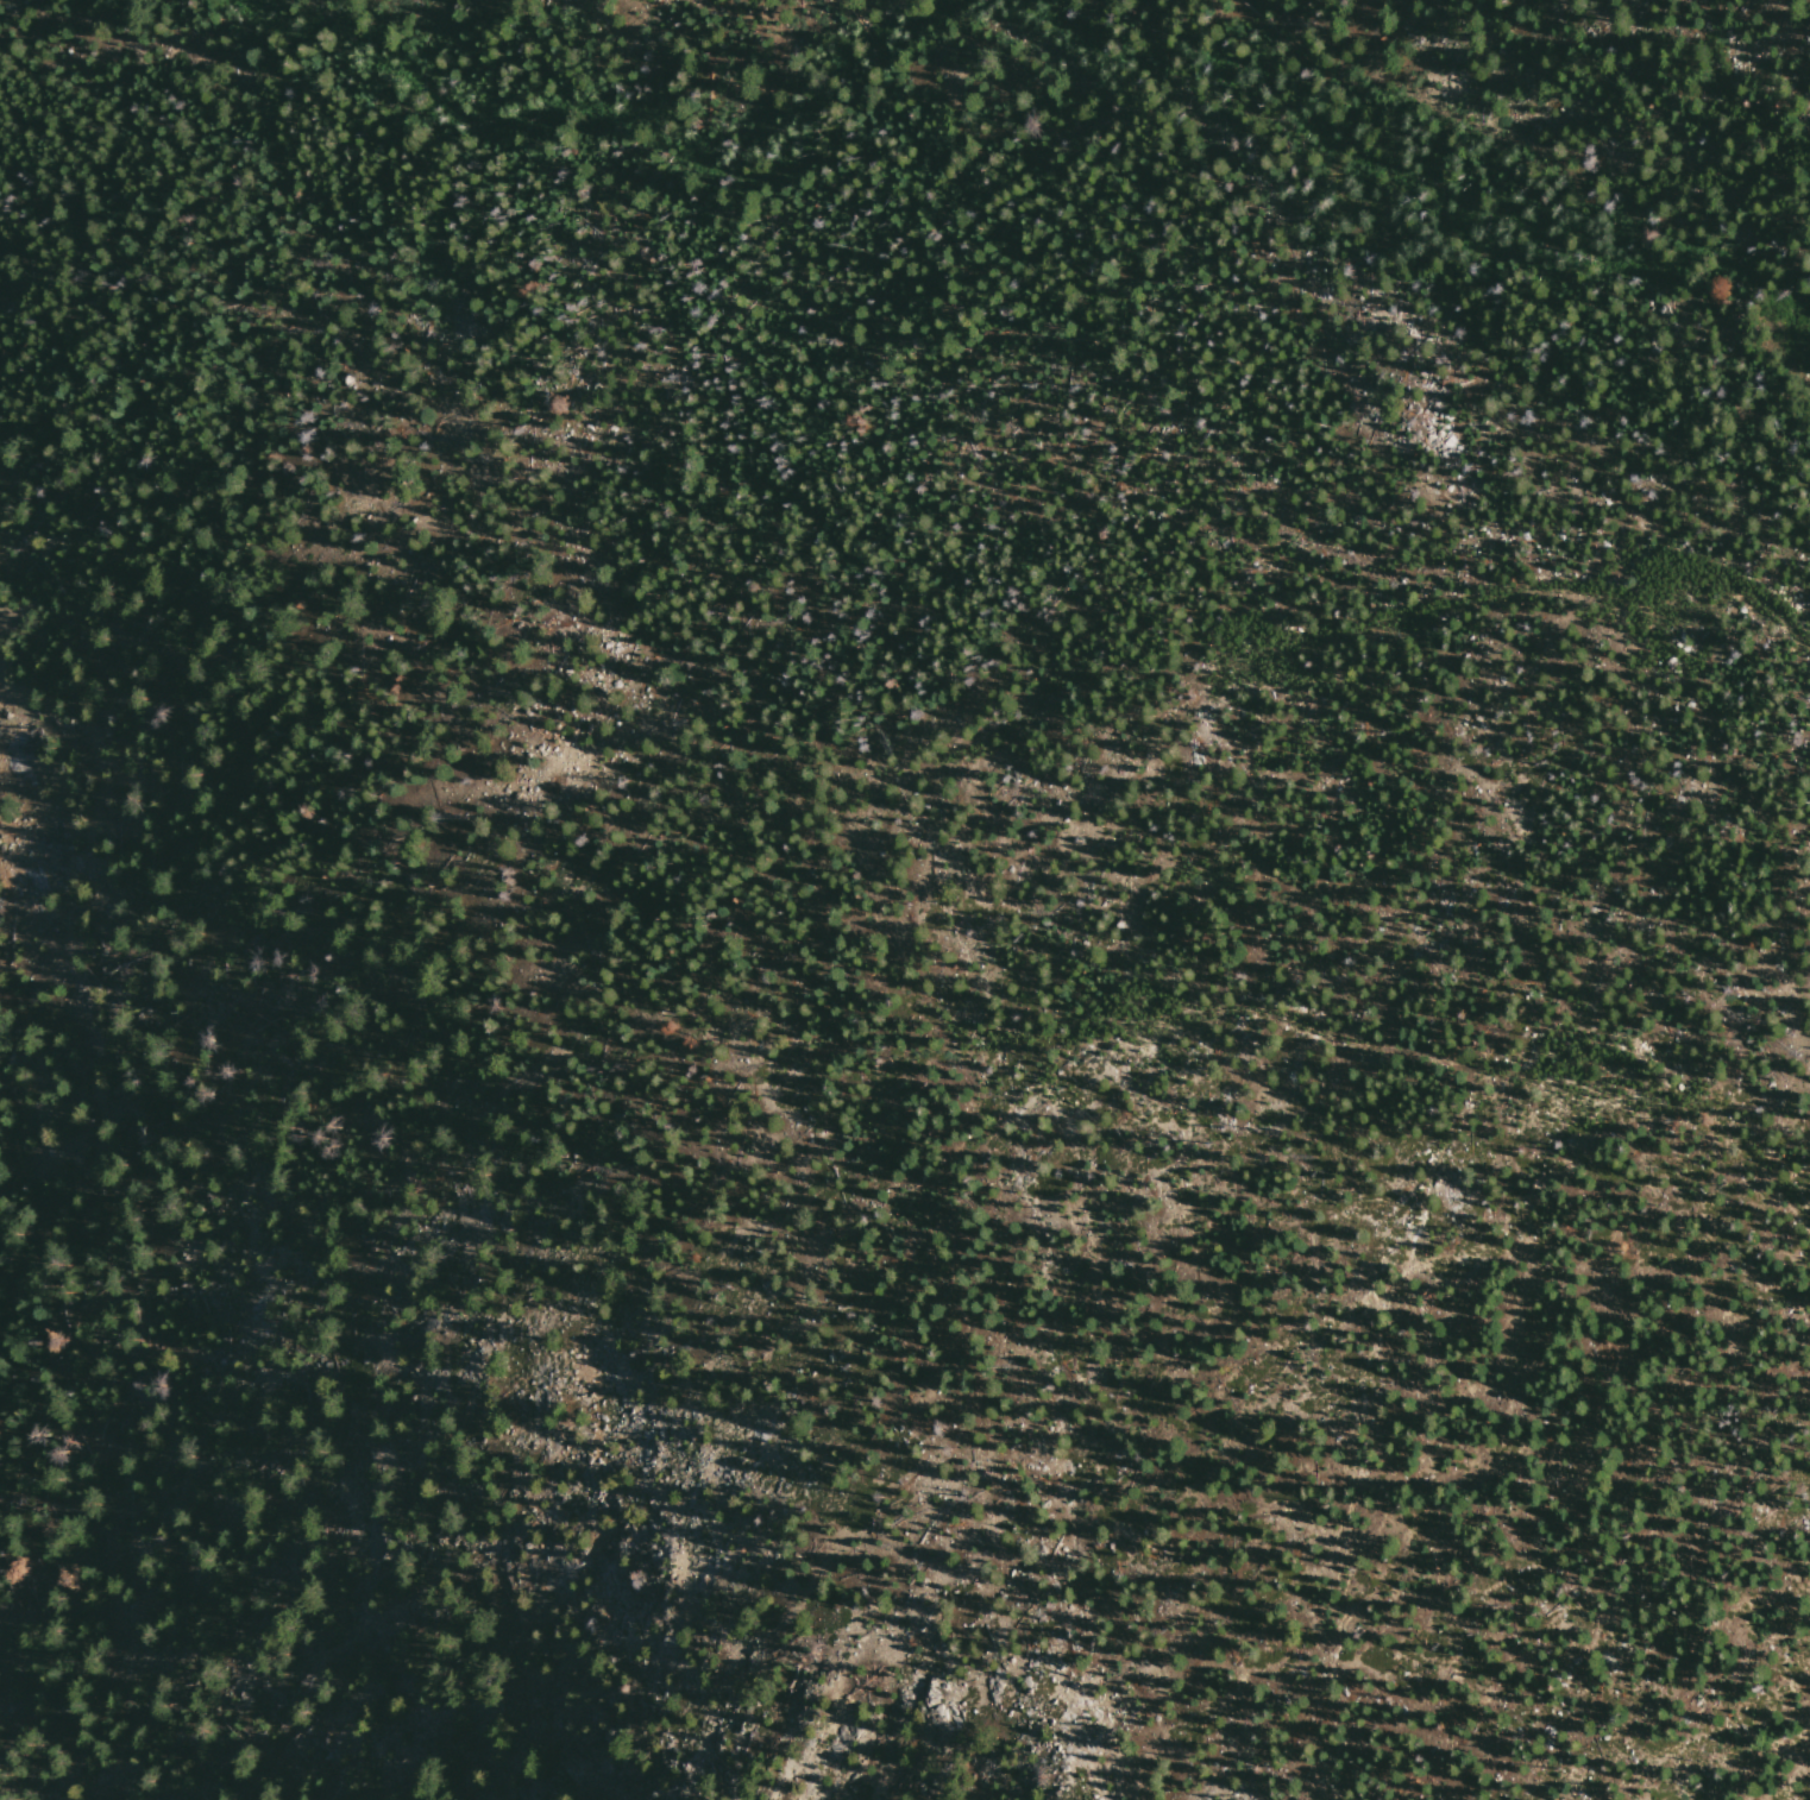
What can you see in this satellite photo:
road: (1485, 584)
road: (1453, 1058)

